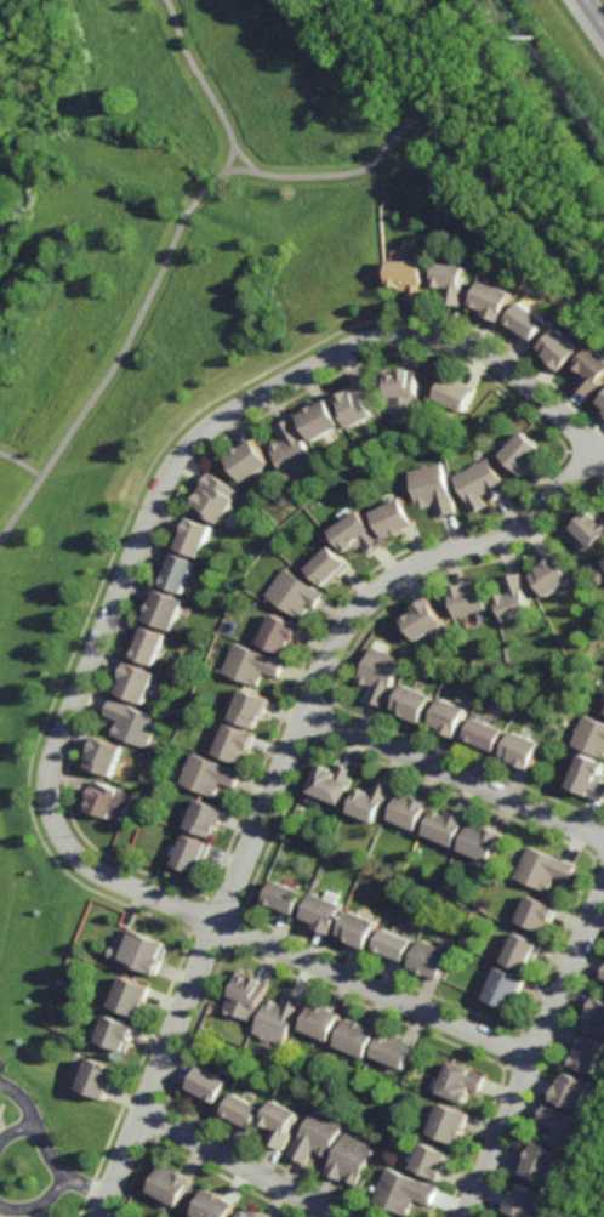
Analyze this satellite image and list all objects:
road: (593, 15)
power tower: (530, 42)
park: (490, 112)
road: (461, 144)
road: (227, 160)
road: (253, 172)
park: (159, 266)
building: (409, 277)
building: (451, 279)
building: (491, 300)
building: (526, 322)
road: (553, 325)
road: (125, 342)
building: (560, 348)
building: (592, 370)
building: (401, 393)
building: (456, 393)
building: (602, 400)
building: (357, 403)
building: (603, 408)
building: (318, 420)
building: (292, 450)
building: (522, 453)
building: (246, 461)
road: (21, 464)
building: (479, 484)
building: (432, 489)
road: (156, 496)
building: (215, 499)
building: (391, 518)
building: (589, 528)
building: (354, 534)
building: (190, 538)
building: (603, 562)
building: (326, 568)
building: (176, 574)
building: (548, 576)
building: (599, 576)
building: (292, 595)
building: (511, 598)
building: (465, 599)
building: (164, 610)
building: (420, 620)
building: (279, 636)
building: (147, 647)
building: (251, 666)
building: (376, 675)
building: (135, 684)
building: (603, 703)
building: (409, 704)
building: (249, 711)
building: (445, 718)
building: (132, 724)
building: (482, 735)
building: (589, 735)
building: (233, 746)
building: (518, 749)
building: (106, 756)
road: (280, 773)
building: (206, 777)
road: (455, 777)
building: (587, 777)
building: (329, 781)
building: (112, 800)
building: (369, 800)
building: (408, 808)
building: (300, 811)
building: (206, 817)
building: (444, 826)
building: (480, 841)
building: (193, 852)
building: (541, 869)
building: (283, 897)
building: (468, 910)
building: (321, 911)
building: (536, 912)
building: (355, 928)
building: (392, 945)
building: (523, 951)
building: (152, 952)
building: (429, 959)
building: (602, 973)
building: (505, 988)
road: (375, 991)
building: (246, 994)
building: (135, 996)
building: (594, 1017)
building: (279, 1018)
building: (321, 1022)
building: (120, 1033)
building: (357, 1037)
building: (393, 1051)
building: (585, 1053)
road: (531, 1057)
parking lot: (1, 1064)
building: (102, 1077)
building: (460, 1081)
building: (209, 1084)
building: (570, 1091)
parking lot: (0, 1104)
building: (243, 1113)
building: (280, 1124)
building: (448, 1124)
building: (563, 1130)
road: (16, 1131)
building: (315, 1137)
road: (47, 1148)
building: (349, 1159)
building: (431, 1162)
building: (541, 1162)
road: (238, 1166)
building: (173, 1185)
building: (400, 1192)
building: (523, 1201)
road: (38, 1205)
building: (215, 1205)
road: (599, 1206)
building: (247, 1213)

